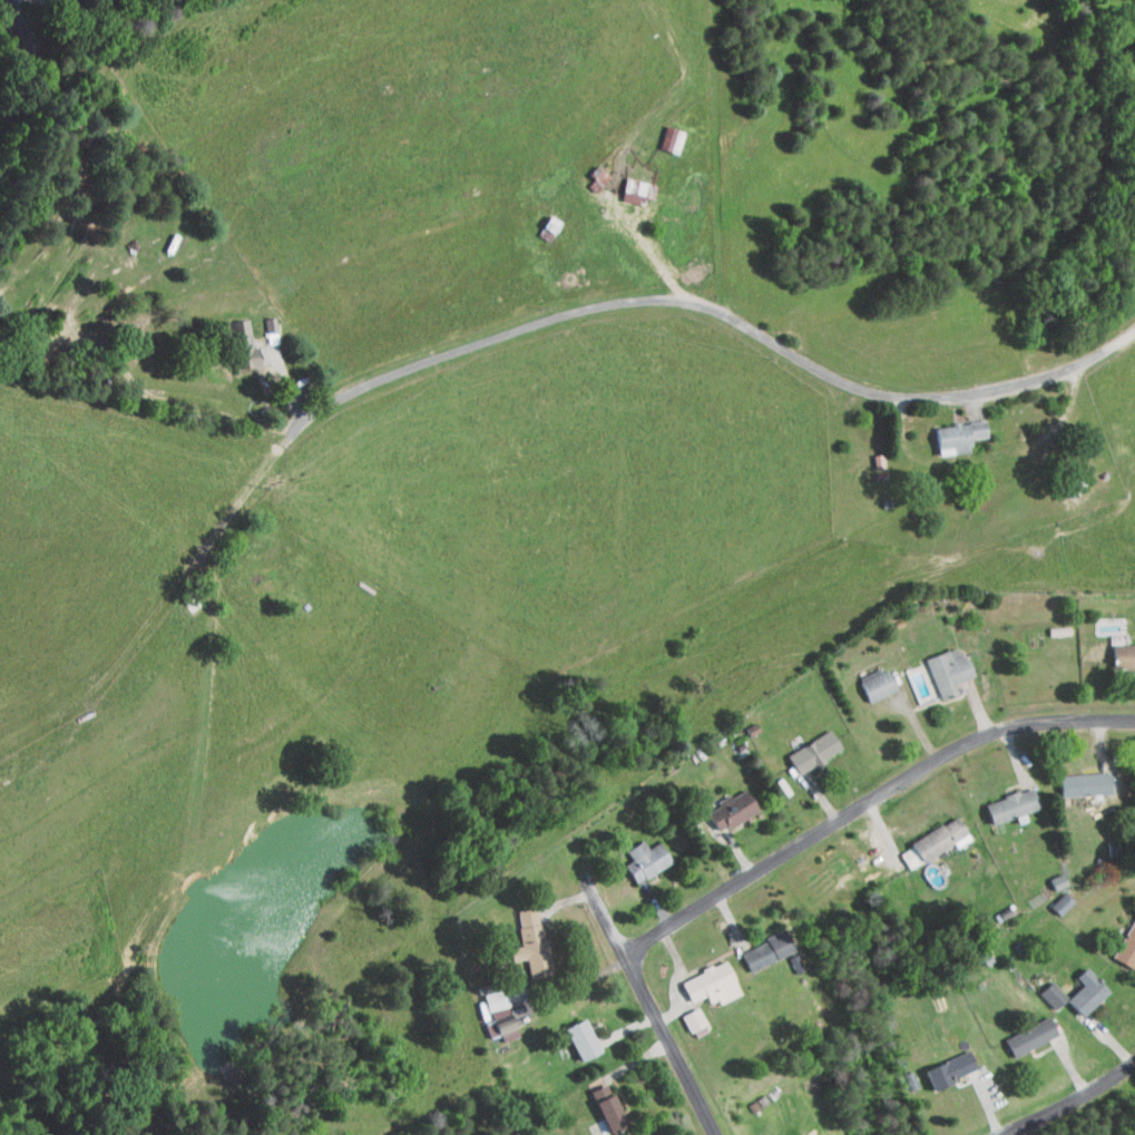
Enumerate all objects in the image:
road: (36, 26)
building: (661, 133)
building: (622, 184)
building: (534, 224)
road: (723, 311)
building: (258, 317)
building: (231, 336)
building: (947, 430)
building: (1117, 648)
building: (937, 665)
building: (865, 677)
building: (802, 745)
building: (1073, 777)
building: (1000, 800)
road: (869, 802)
building: (721, 803)
building: (929, 832)
building: (898, 851)
building: (634, 853)
building: (1047, 874)
building: (1049, 897)
building: (519, 936)
building: (1121, 936)
building: (756, 943)
building: (699, 978)
building: (1075, 986)
building: (1041, 988)
building: (483, 992)
road: (649, 998)
building: (682, 1012)
building: (492, 1017)
building: (1019, 1029)
building: (570, 1033)
building: (939, 1063)
building: (596, 1100)
road: (1070, 1102)
building: (798, 1133)

